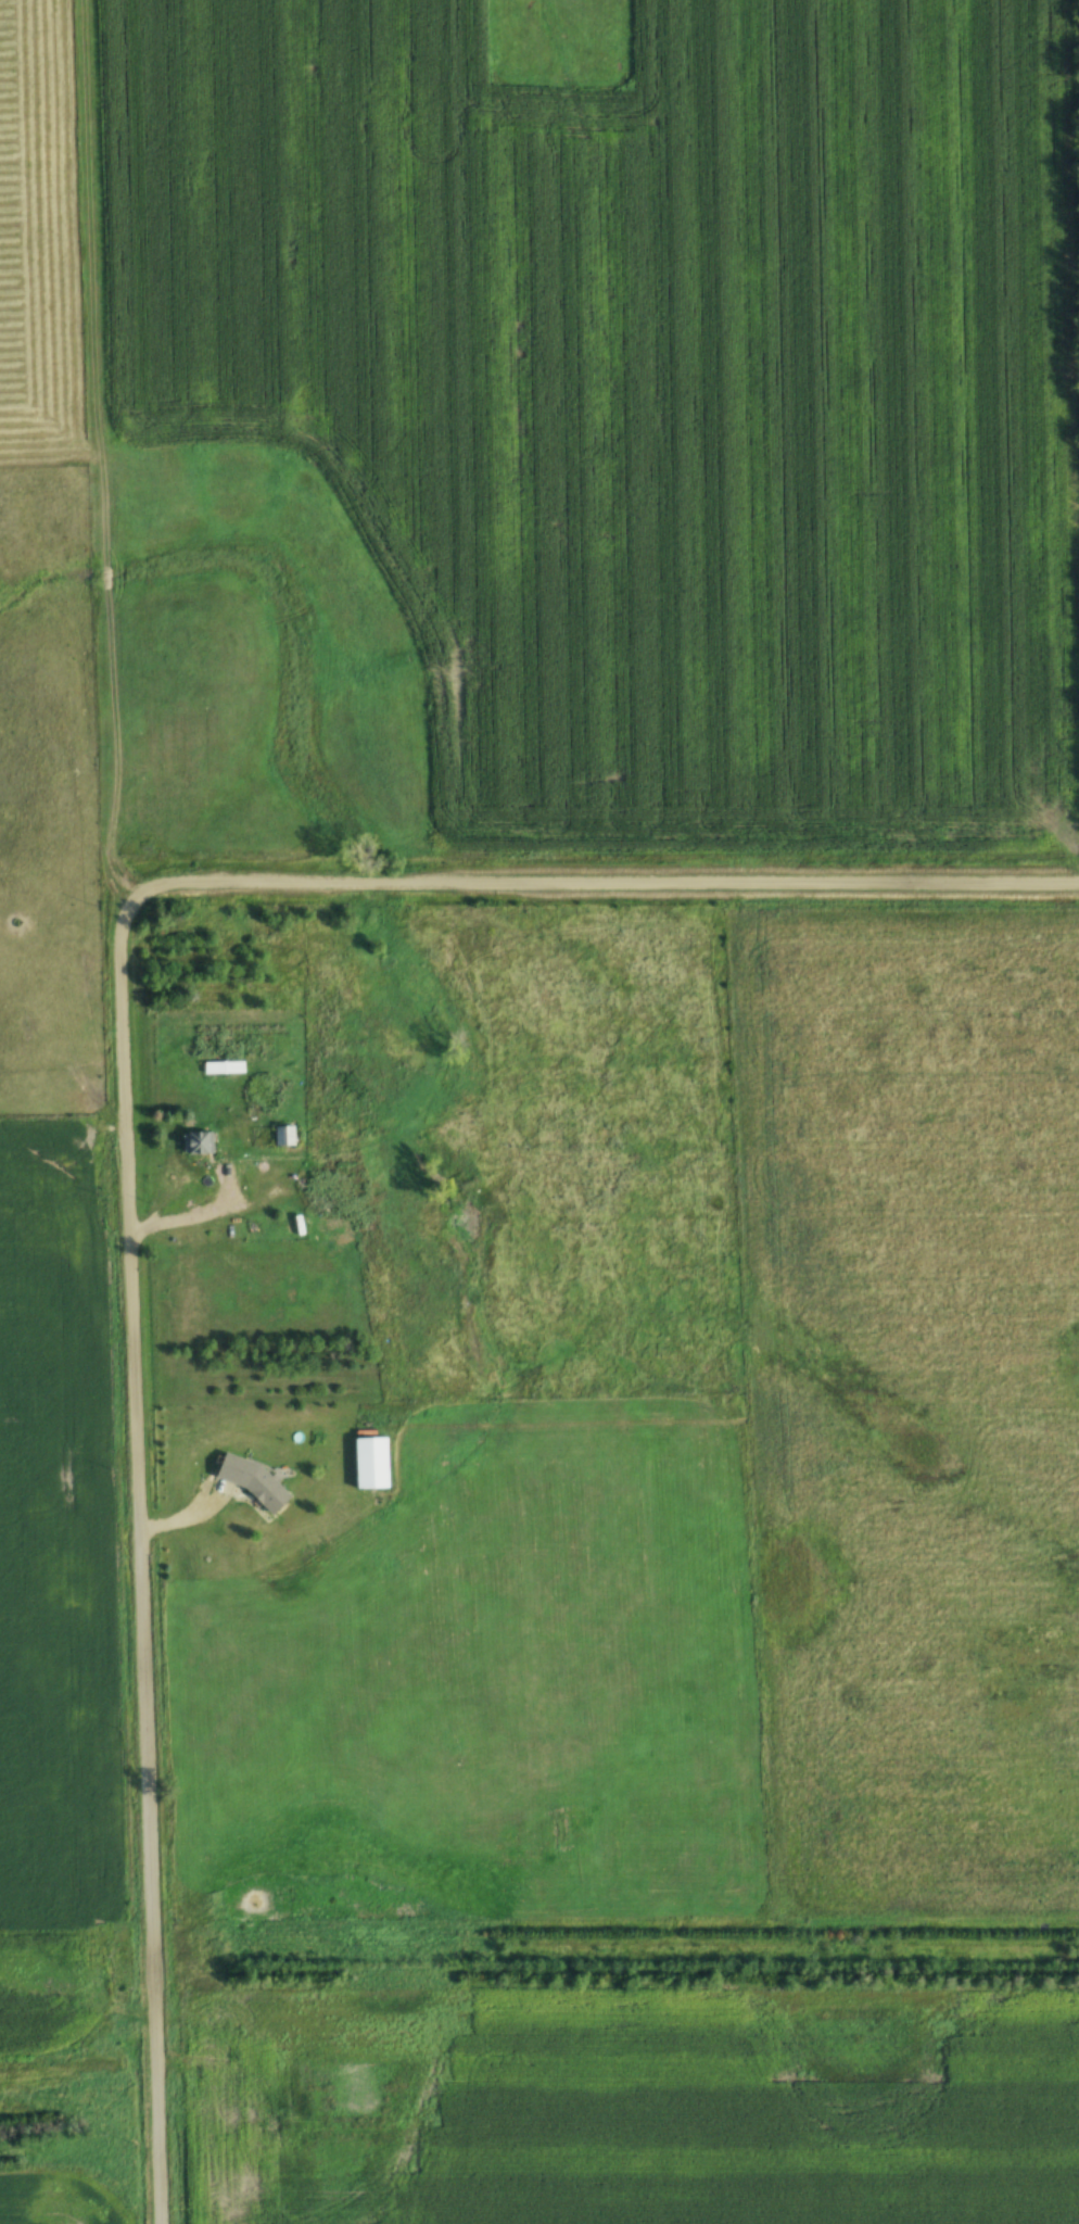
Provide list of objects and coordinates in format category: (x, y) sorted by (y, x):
crop: (646, 391)
road: (433, 877)
building: (223, 1065)
building: (282, 1133)
building: (195, 1143)
building: (322, 1192)
road: (193, 1216)
building: (370, 1459)
crop: (51, 1538)
road: (142, 1726)

